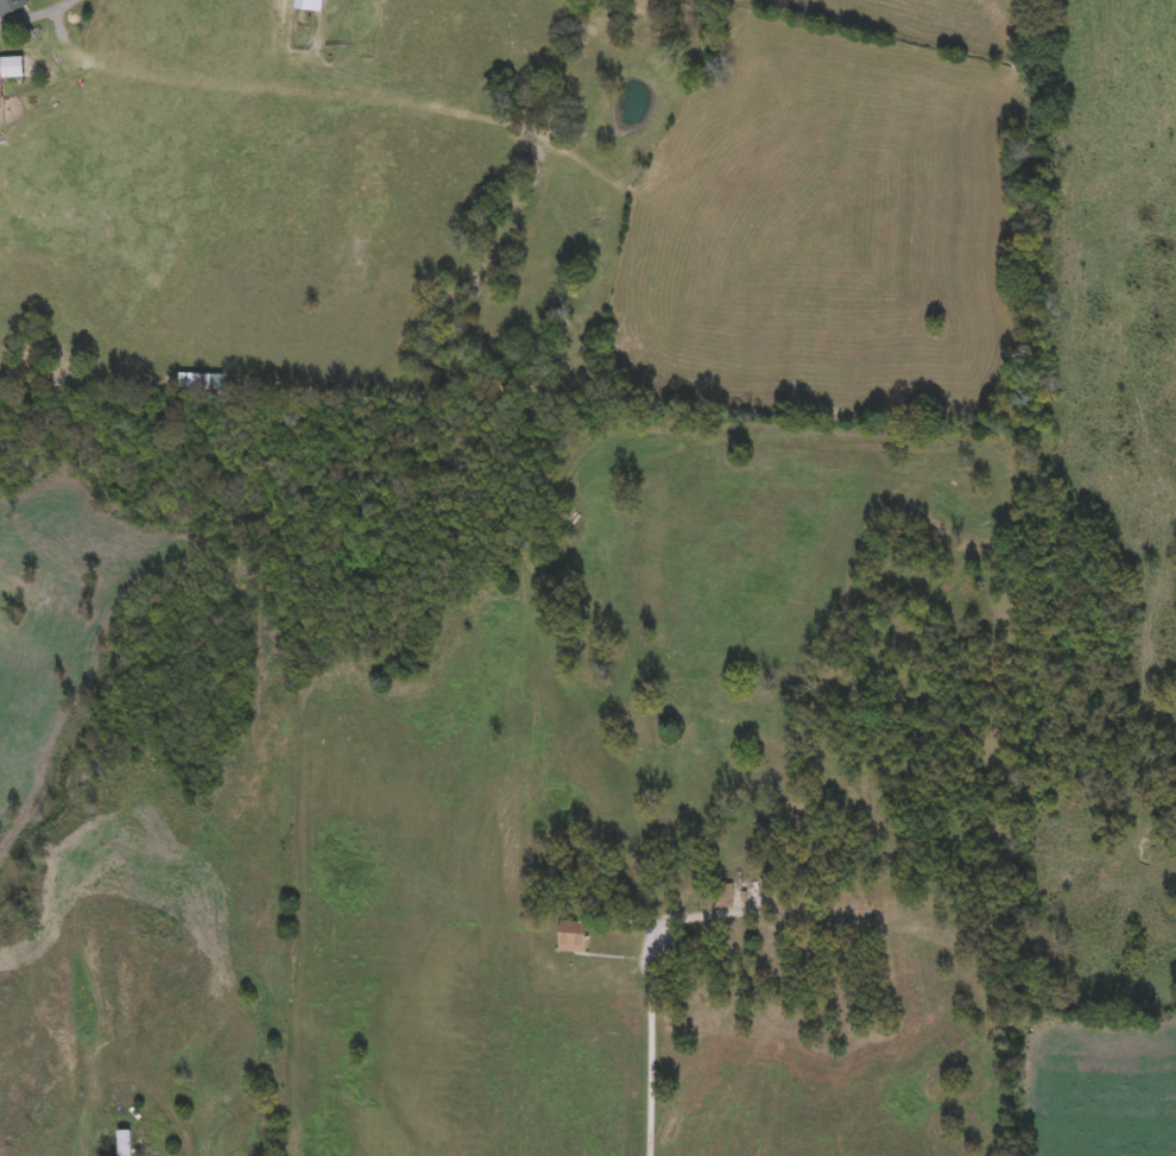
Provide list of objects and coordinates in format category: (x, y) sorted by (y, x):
road: (27, 10)
building: (0, 80)
building: (191, 383)
building: (725, 896)
building: (573, 937)
road: (650, 1012)
building: (125, 1143)

